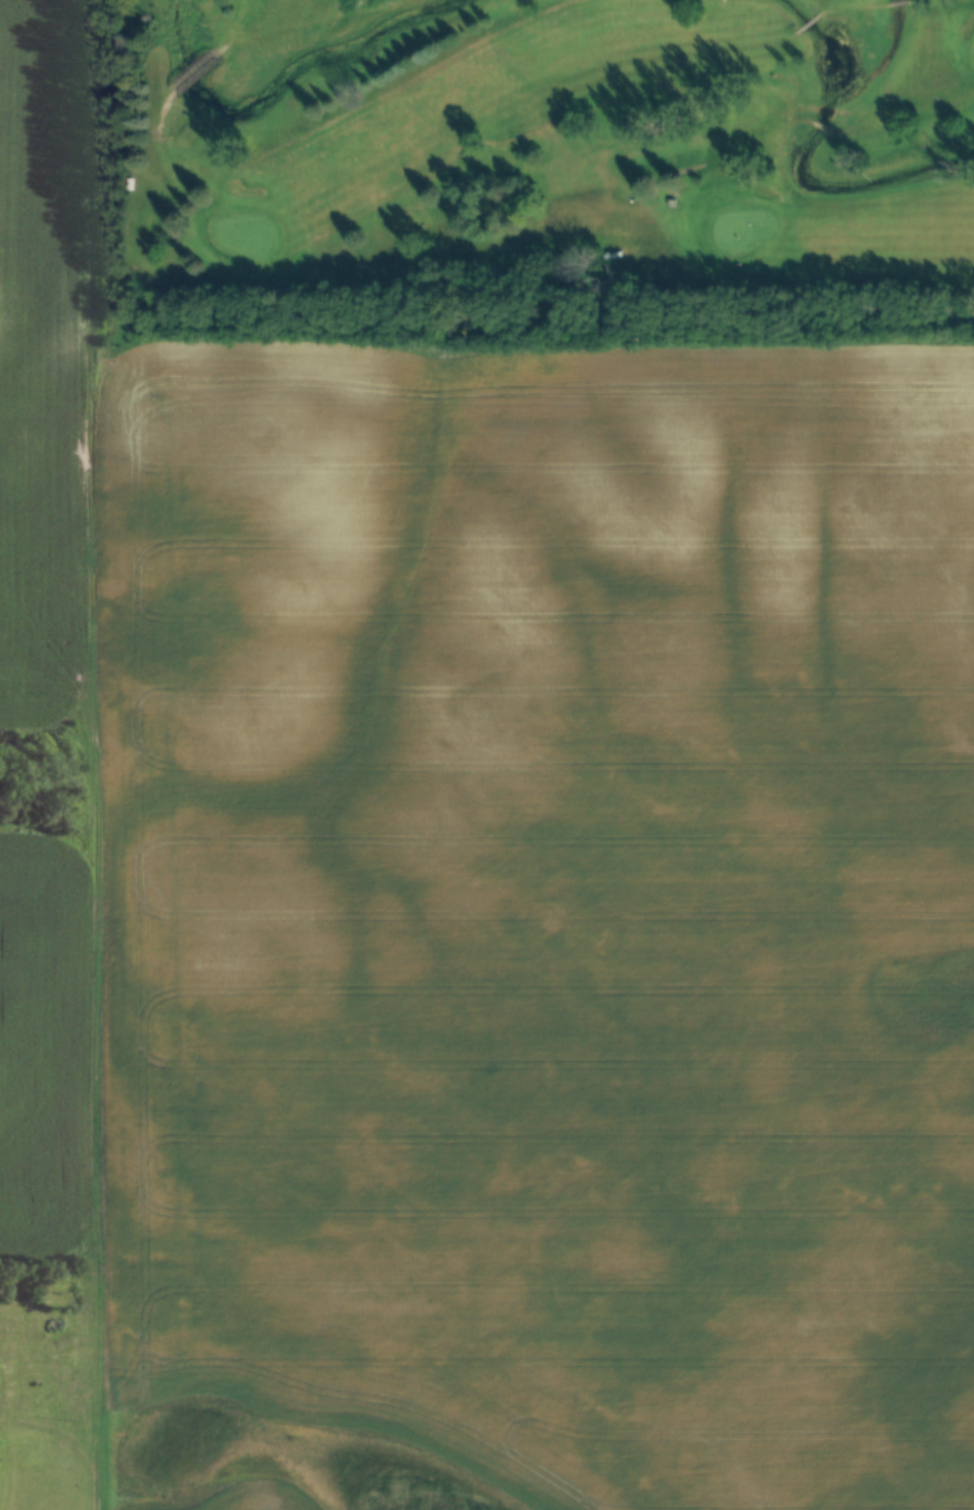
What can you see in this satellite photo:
river: (268, 79)
park: (559, 169)
river: (786, 177)
road: (98, 755)

